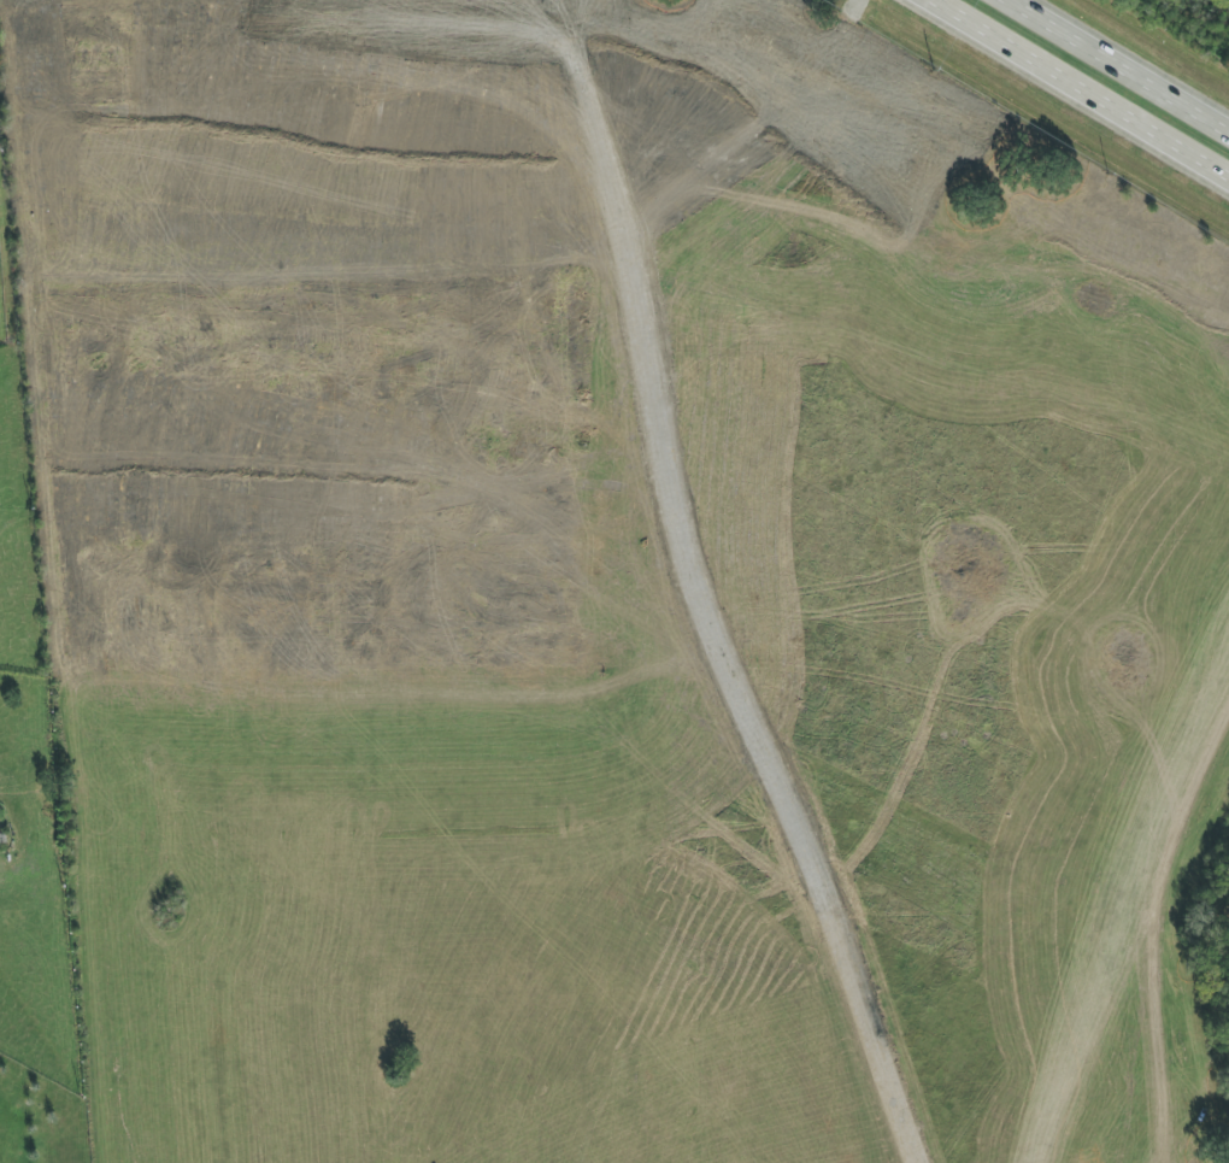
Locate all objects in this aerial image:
road: (1115, 67)
road: (1081, 88)

